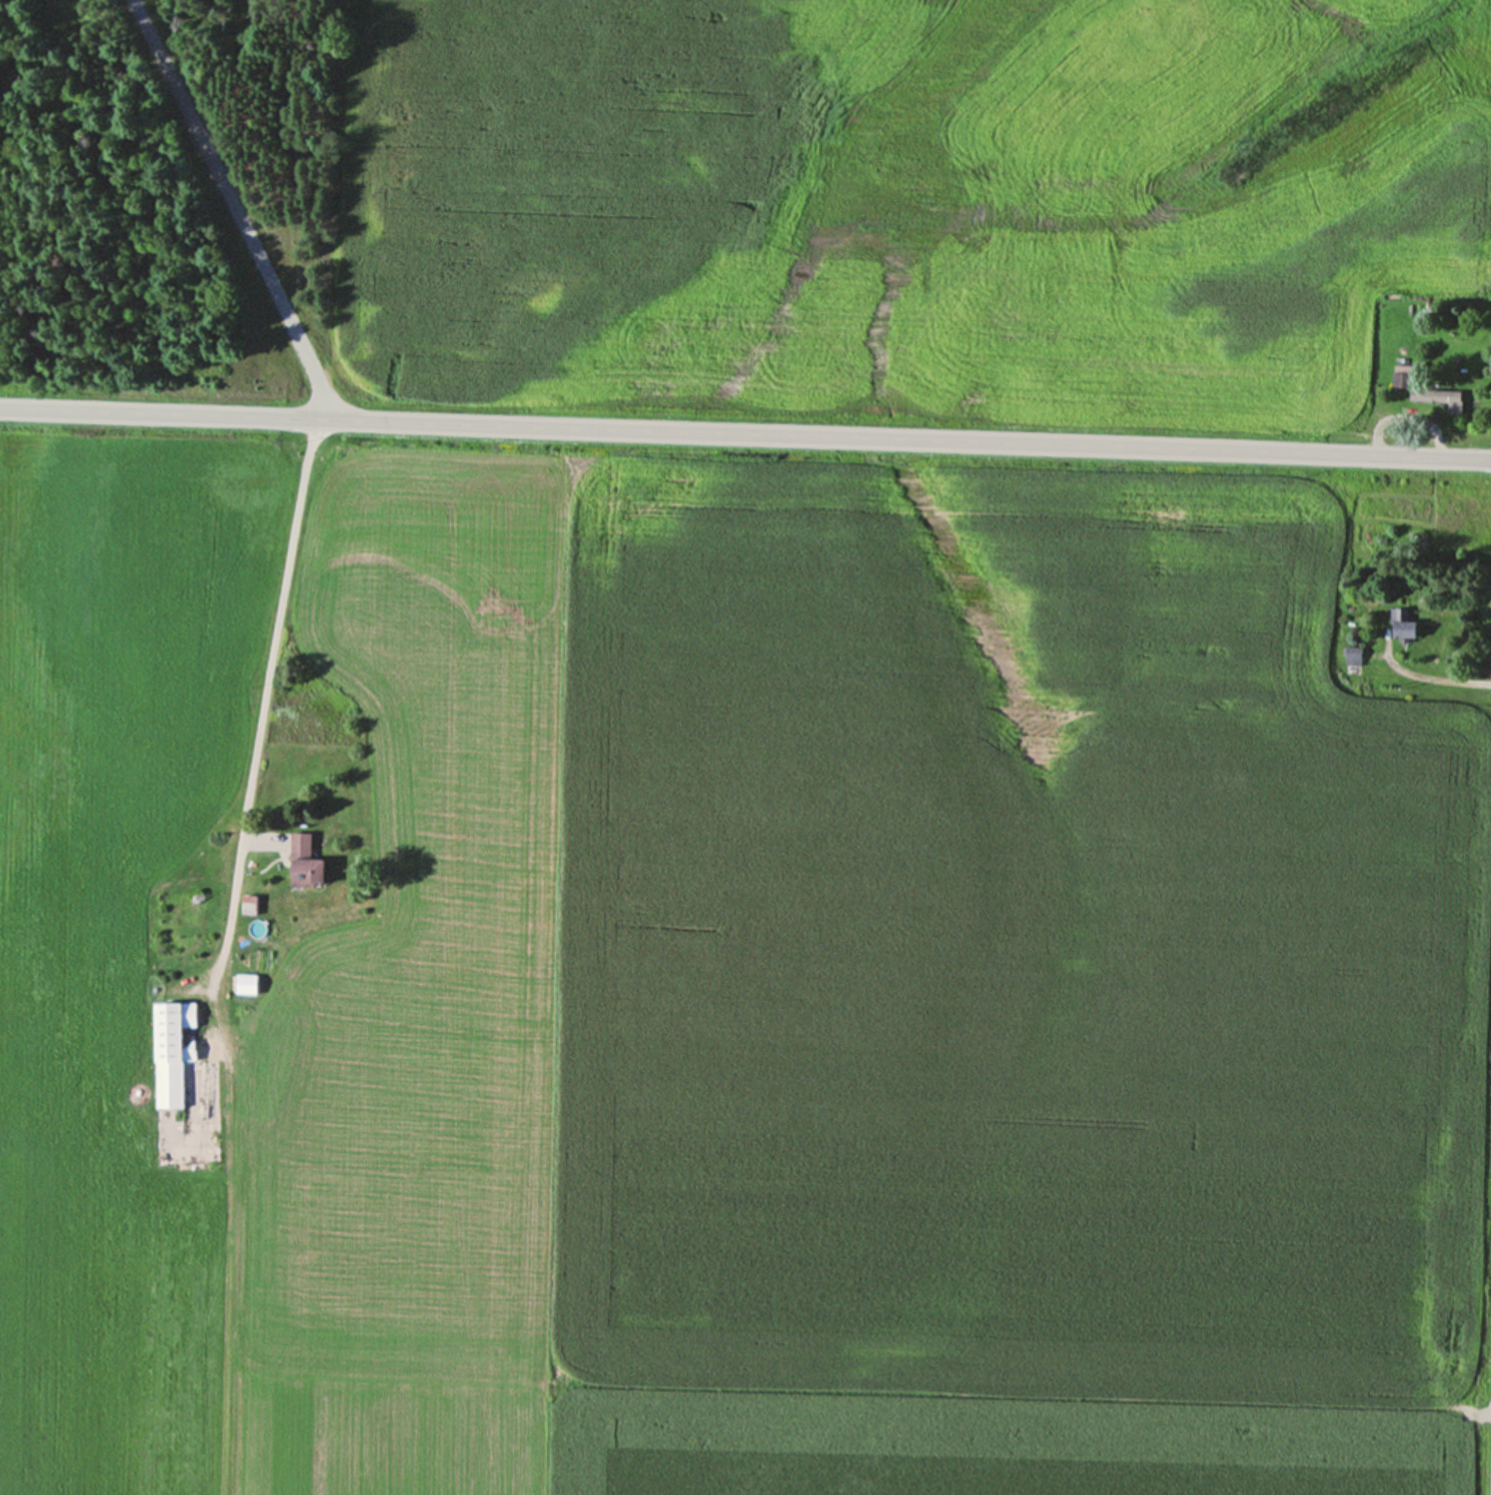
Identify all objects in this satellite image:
road: (235, 208)
building: (1420, 389)
road: (745, 432)
building: (1399, 628)
road: (1451, 680)
road: (266, 697)
building: (300, 861)
building: (244, 981)
building: (171, 1050)

